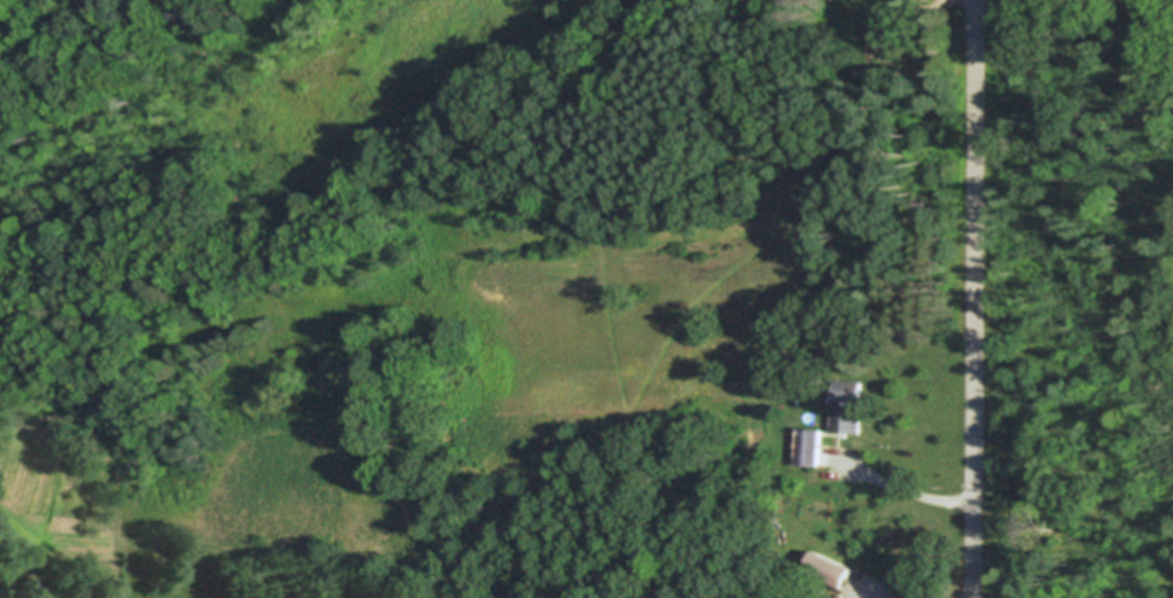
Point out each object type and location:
building: (906, 0)
building: (884, 34)
road: (973, 298)
quarry: (1105, 304)
building: (782, 335)
building: (828, 358)
building: (850, 405)
building: (811, 445)
building: (833, 568)
building: (838, 597)

